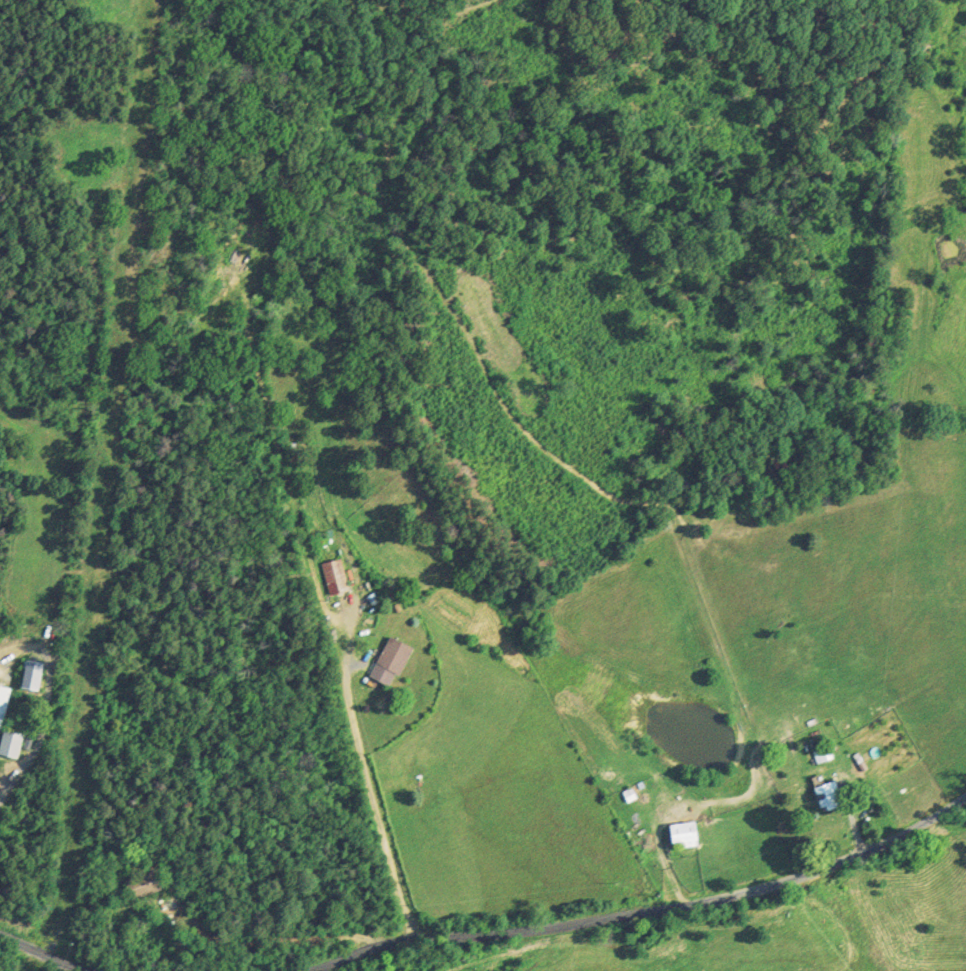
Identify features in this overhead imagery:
building: (779, 462)
building: (336, 576)
building: (392, 661)
building: (33, 674)
building: (824, 754)
building: (830, 795)
building: (685, 834)
building: (145, 885)
road: (634, 911)
road: (130, 940)
road: (54, 951)

